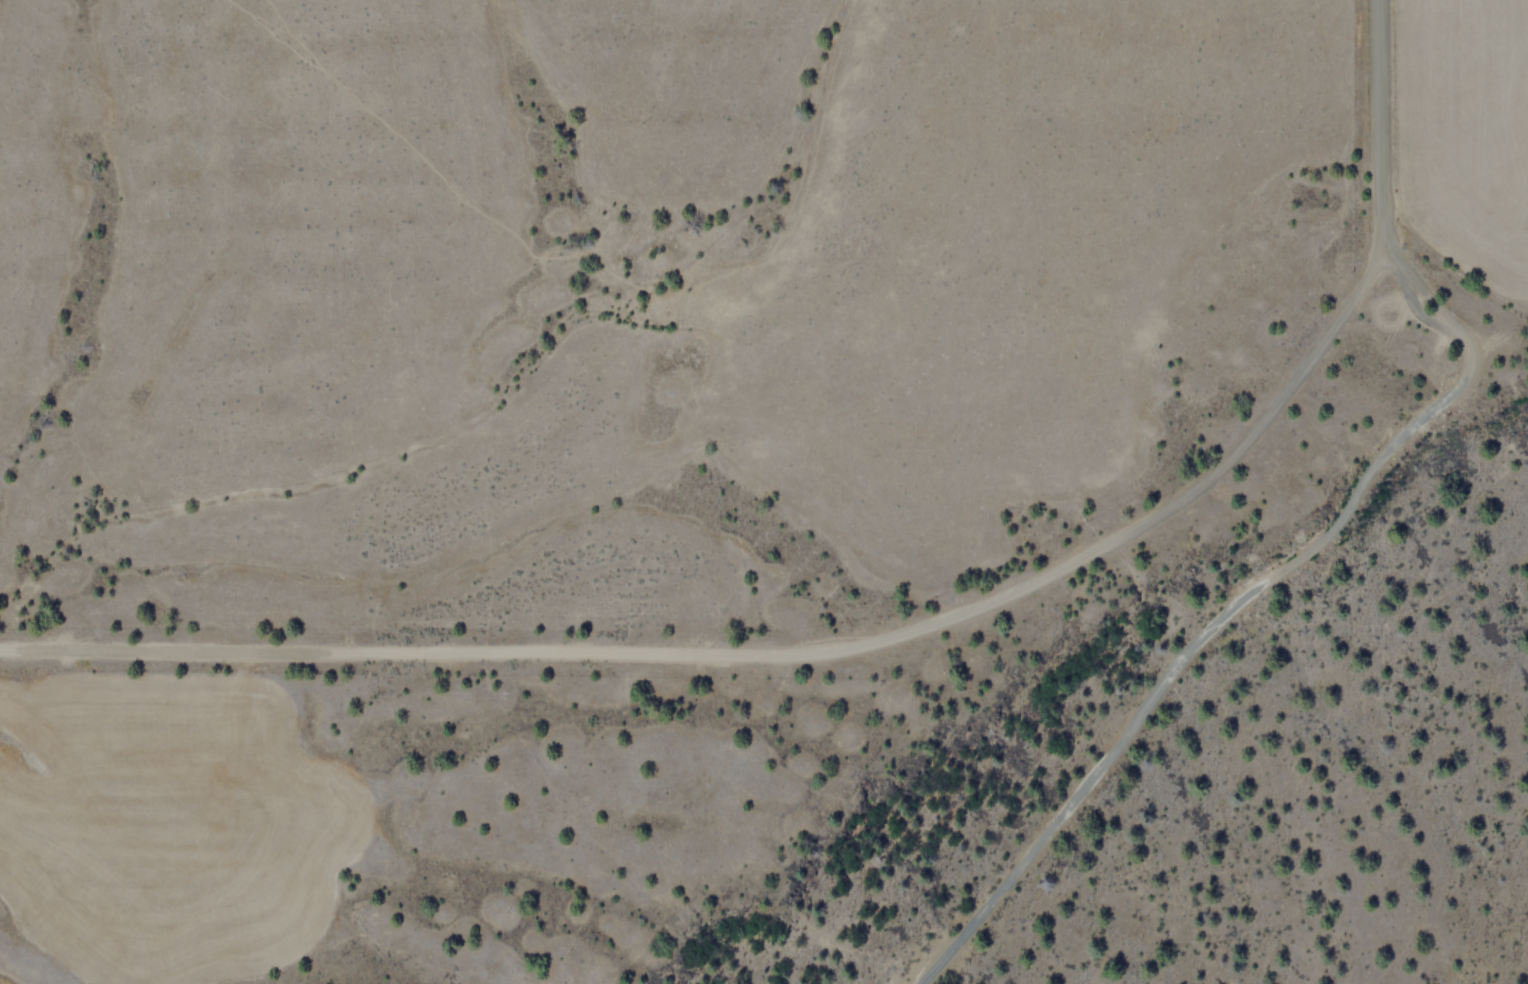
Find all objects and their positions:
road: (1383, 120)
road: (1234, 604)
road: (770, 650)

